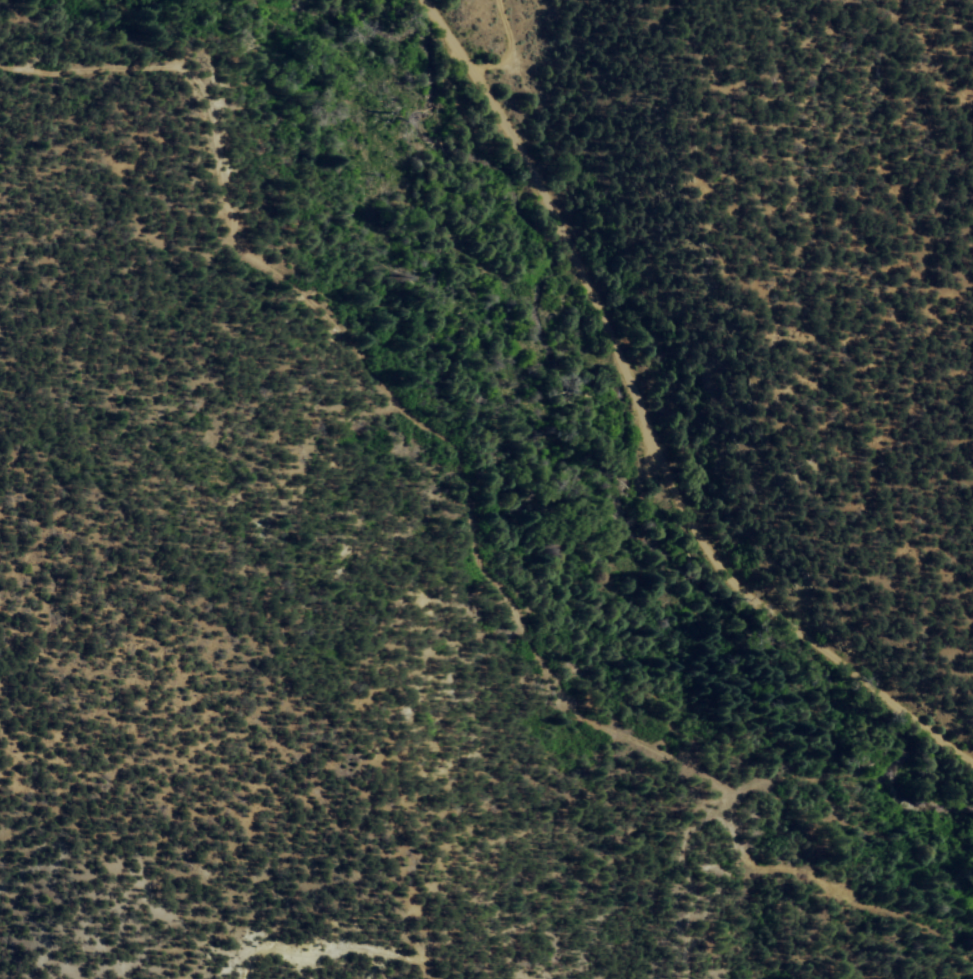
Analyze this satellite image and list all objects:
road: (644, 413)
road: (465, 501)
road: (372, 976)

